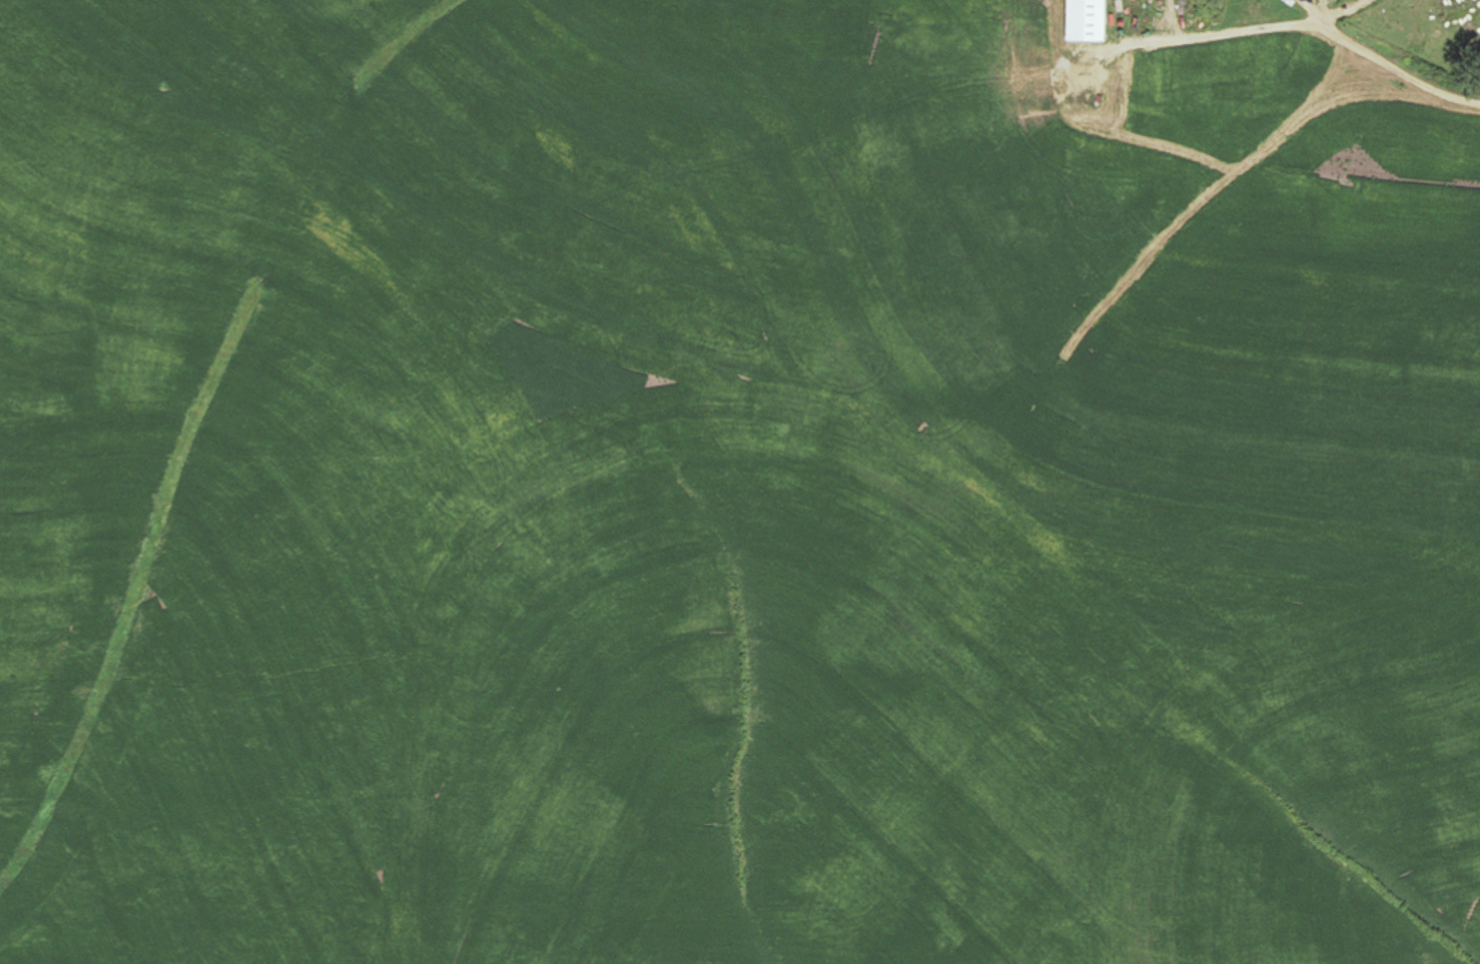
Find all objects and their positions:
building: (1174, 12)
building: (1083, 21)
road: (1470, 90)

